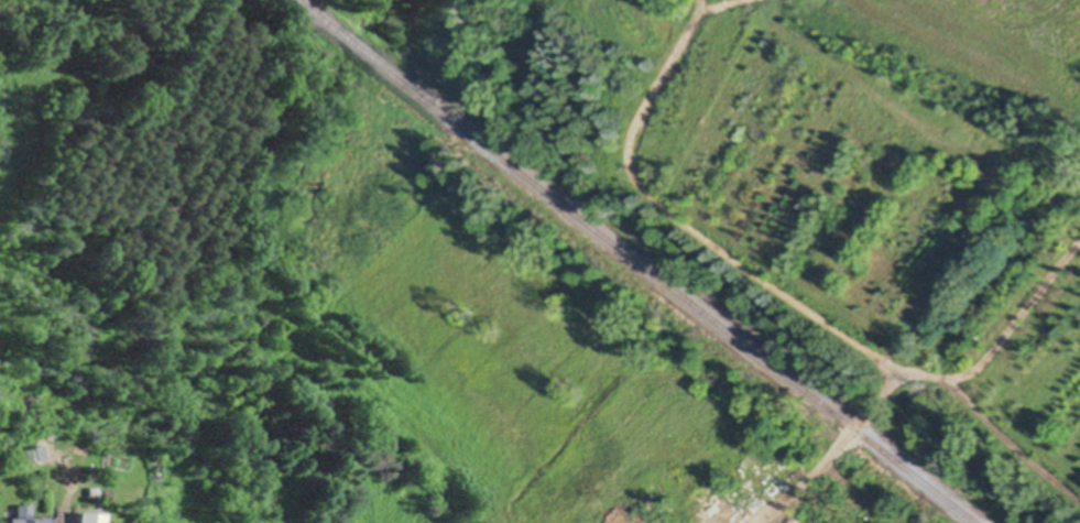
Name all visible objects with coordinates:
railway: (635, 260)
building: (31, 448)
road: (838, 450)
building: (22, 513)
building: (86, 513)
building: (114, 516)

